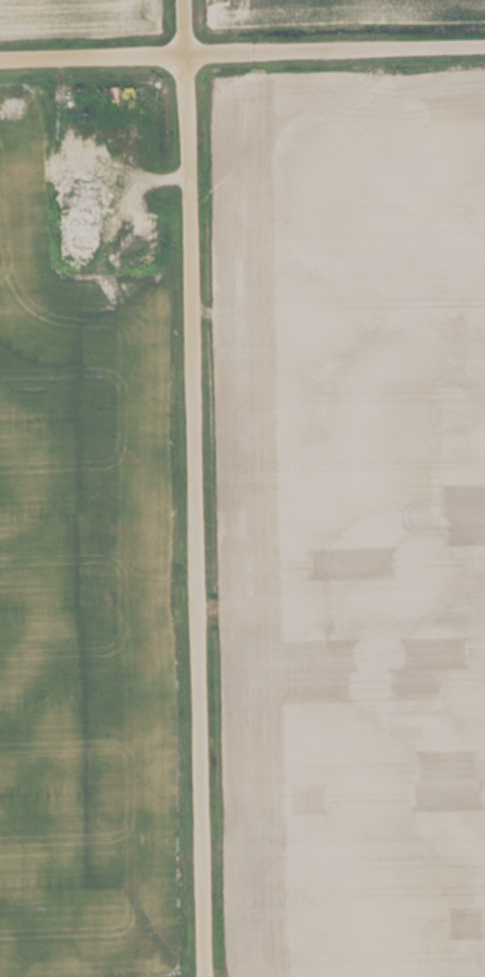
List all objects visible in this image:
road: (242, 53)
building: (83, 230)
road: (188, 488)

